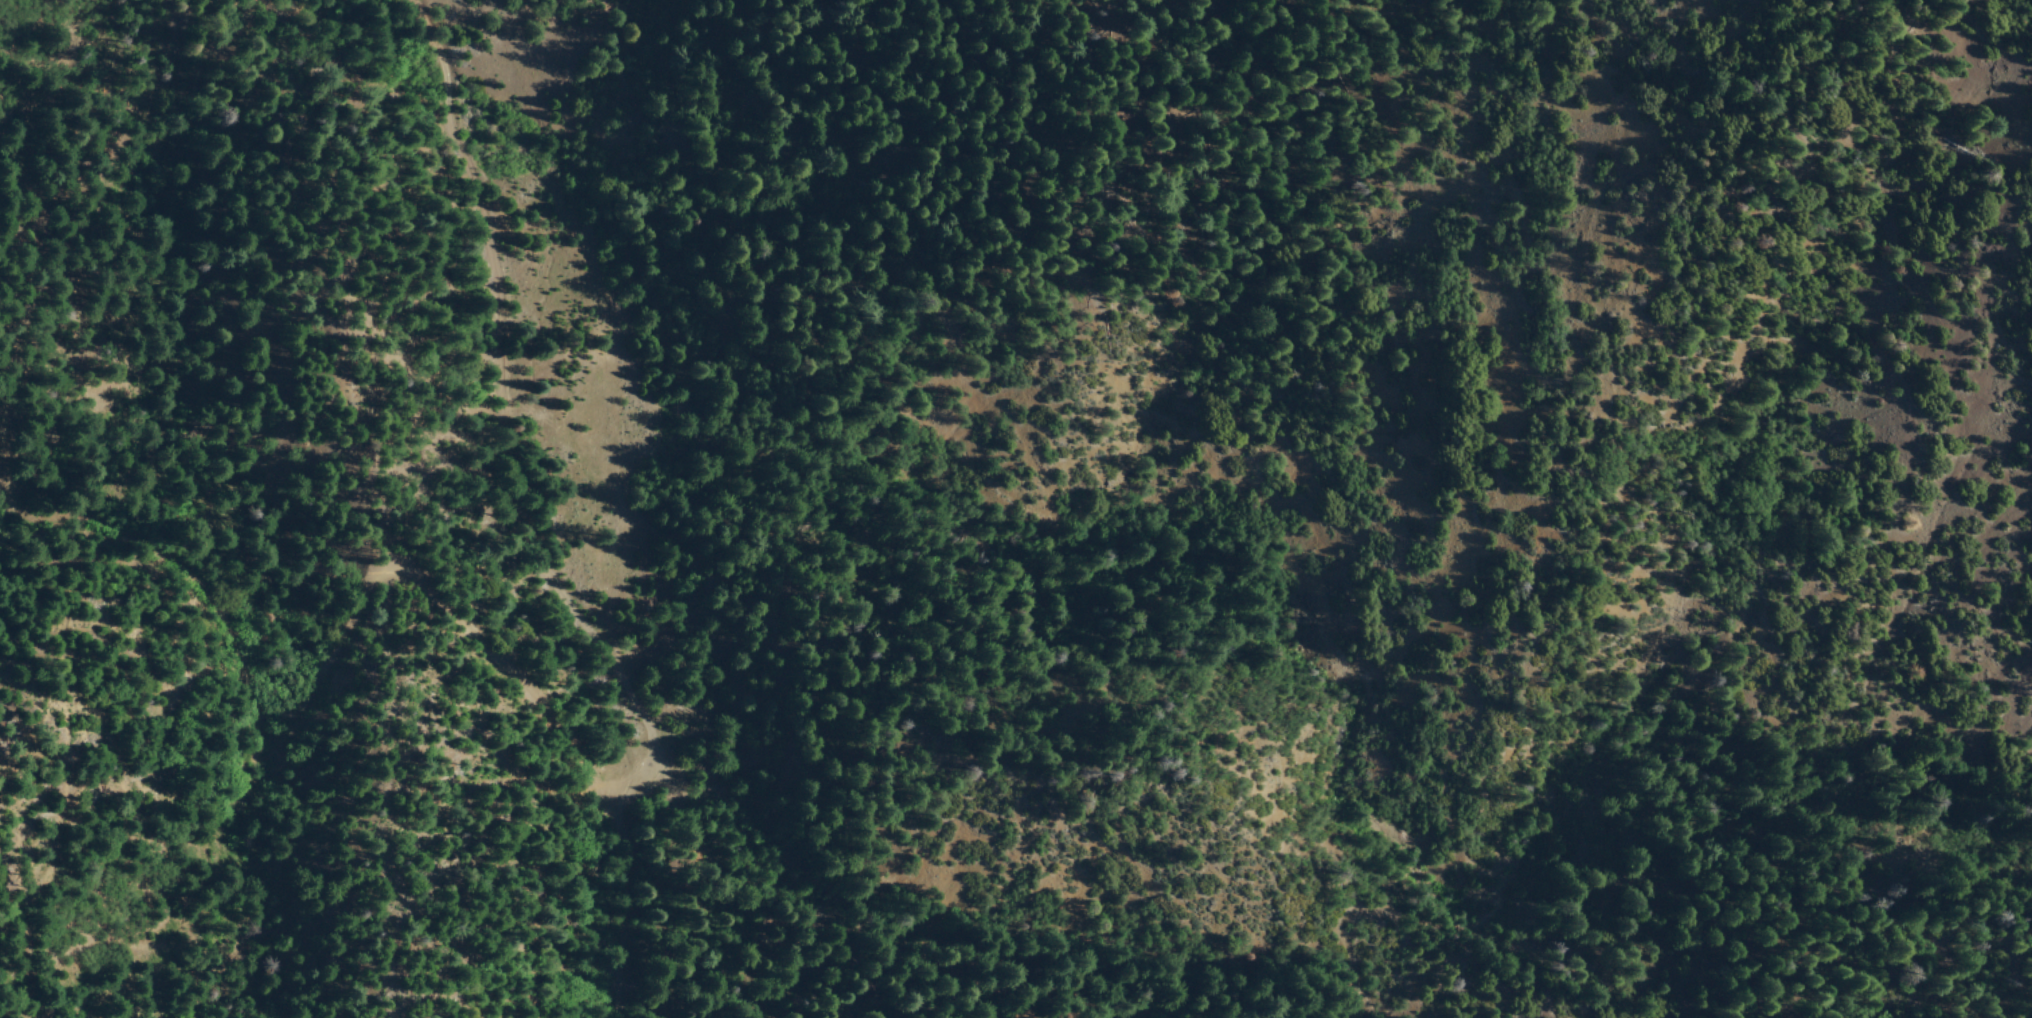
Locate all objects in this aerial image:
road: (619, 803)
road: (637, 909)

